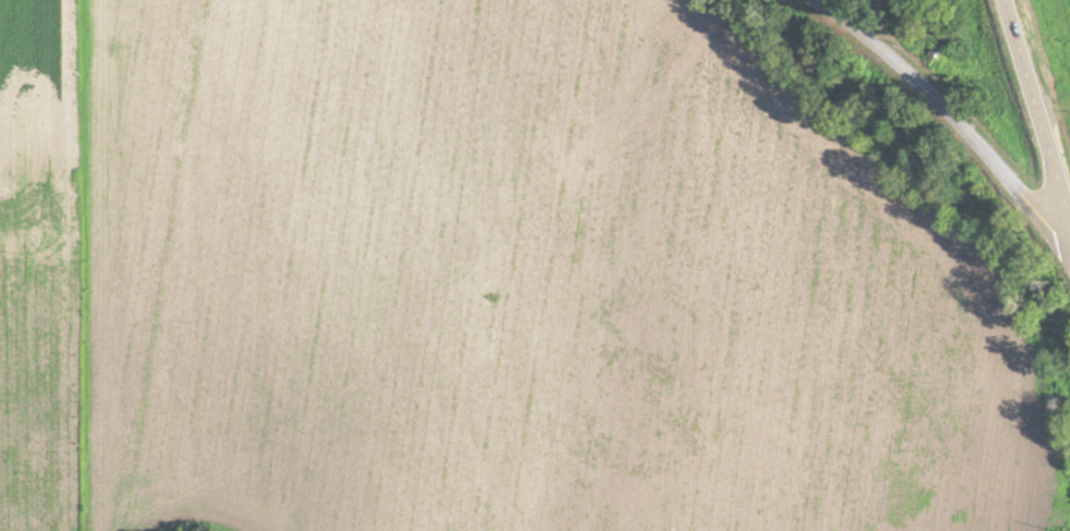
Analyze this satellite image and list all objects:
road: (1044, 94)
road: (955, 102)

